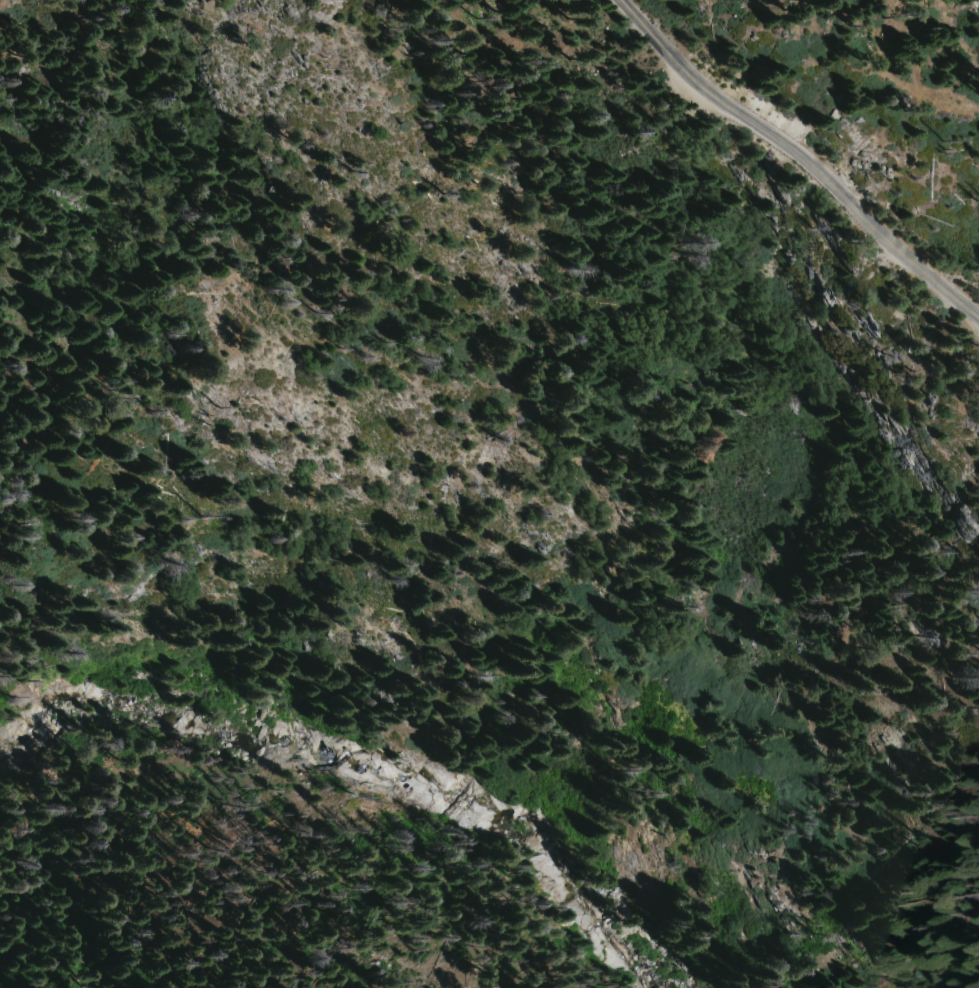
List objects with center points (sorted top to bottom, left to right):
road: (806, 145)

